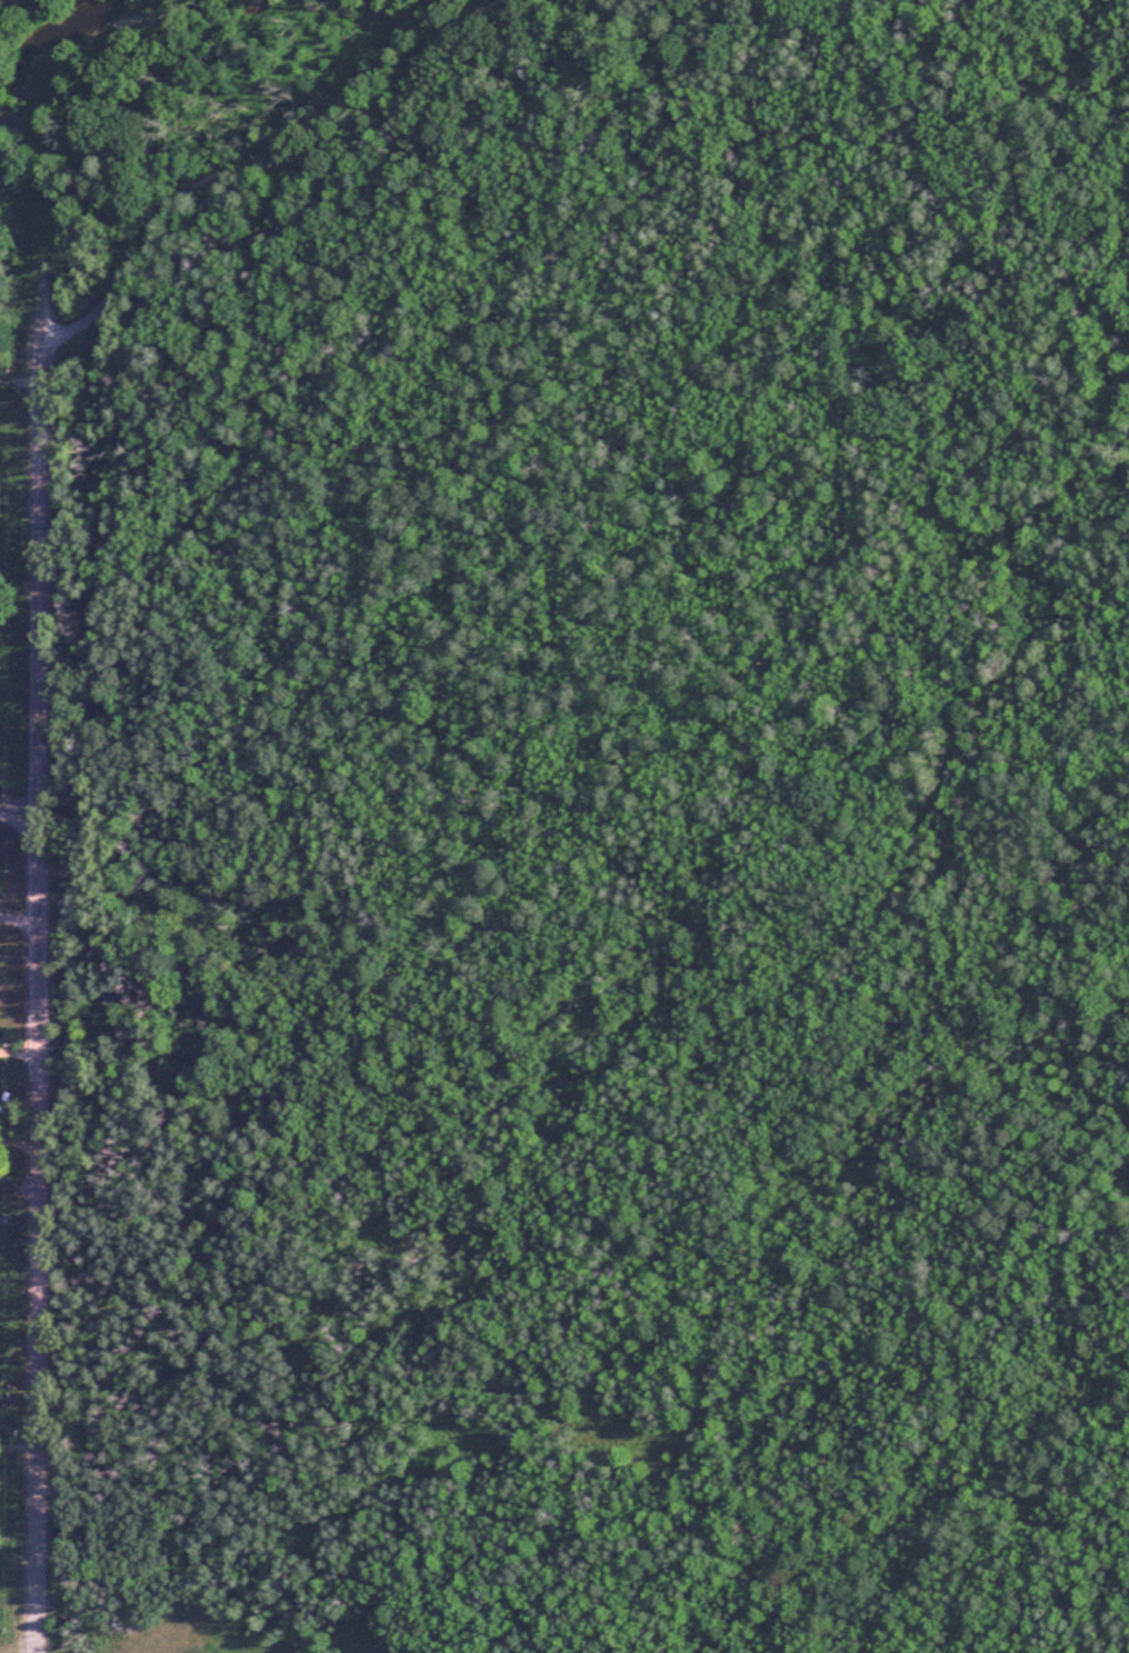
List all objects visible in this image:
road: (19, 810)
road: (19, 915)
road: (38, 956)

